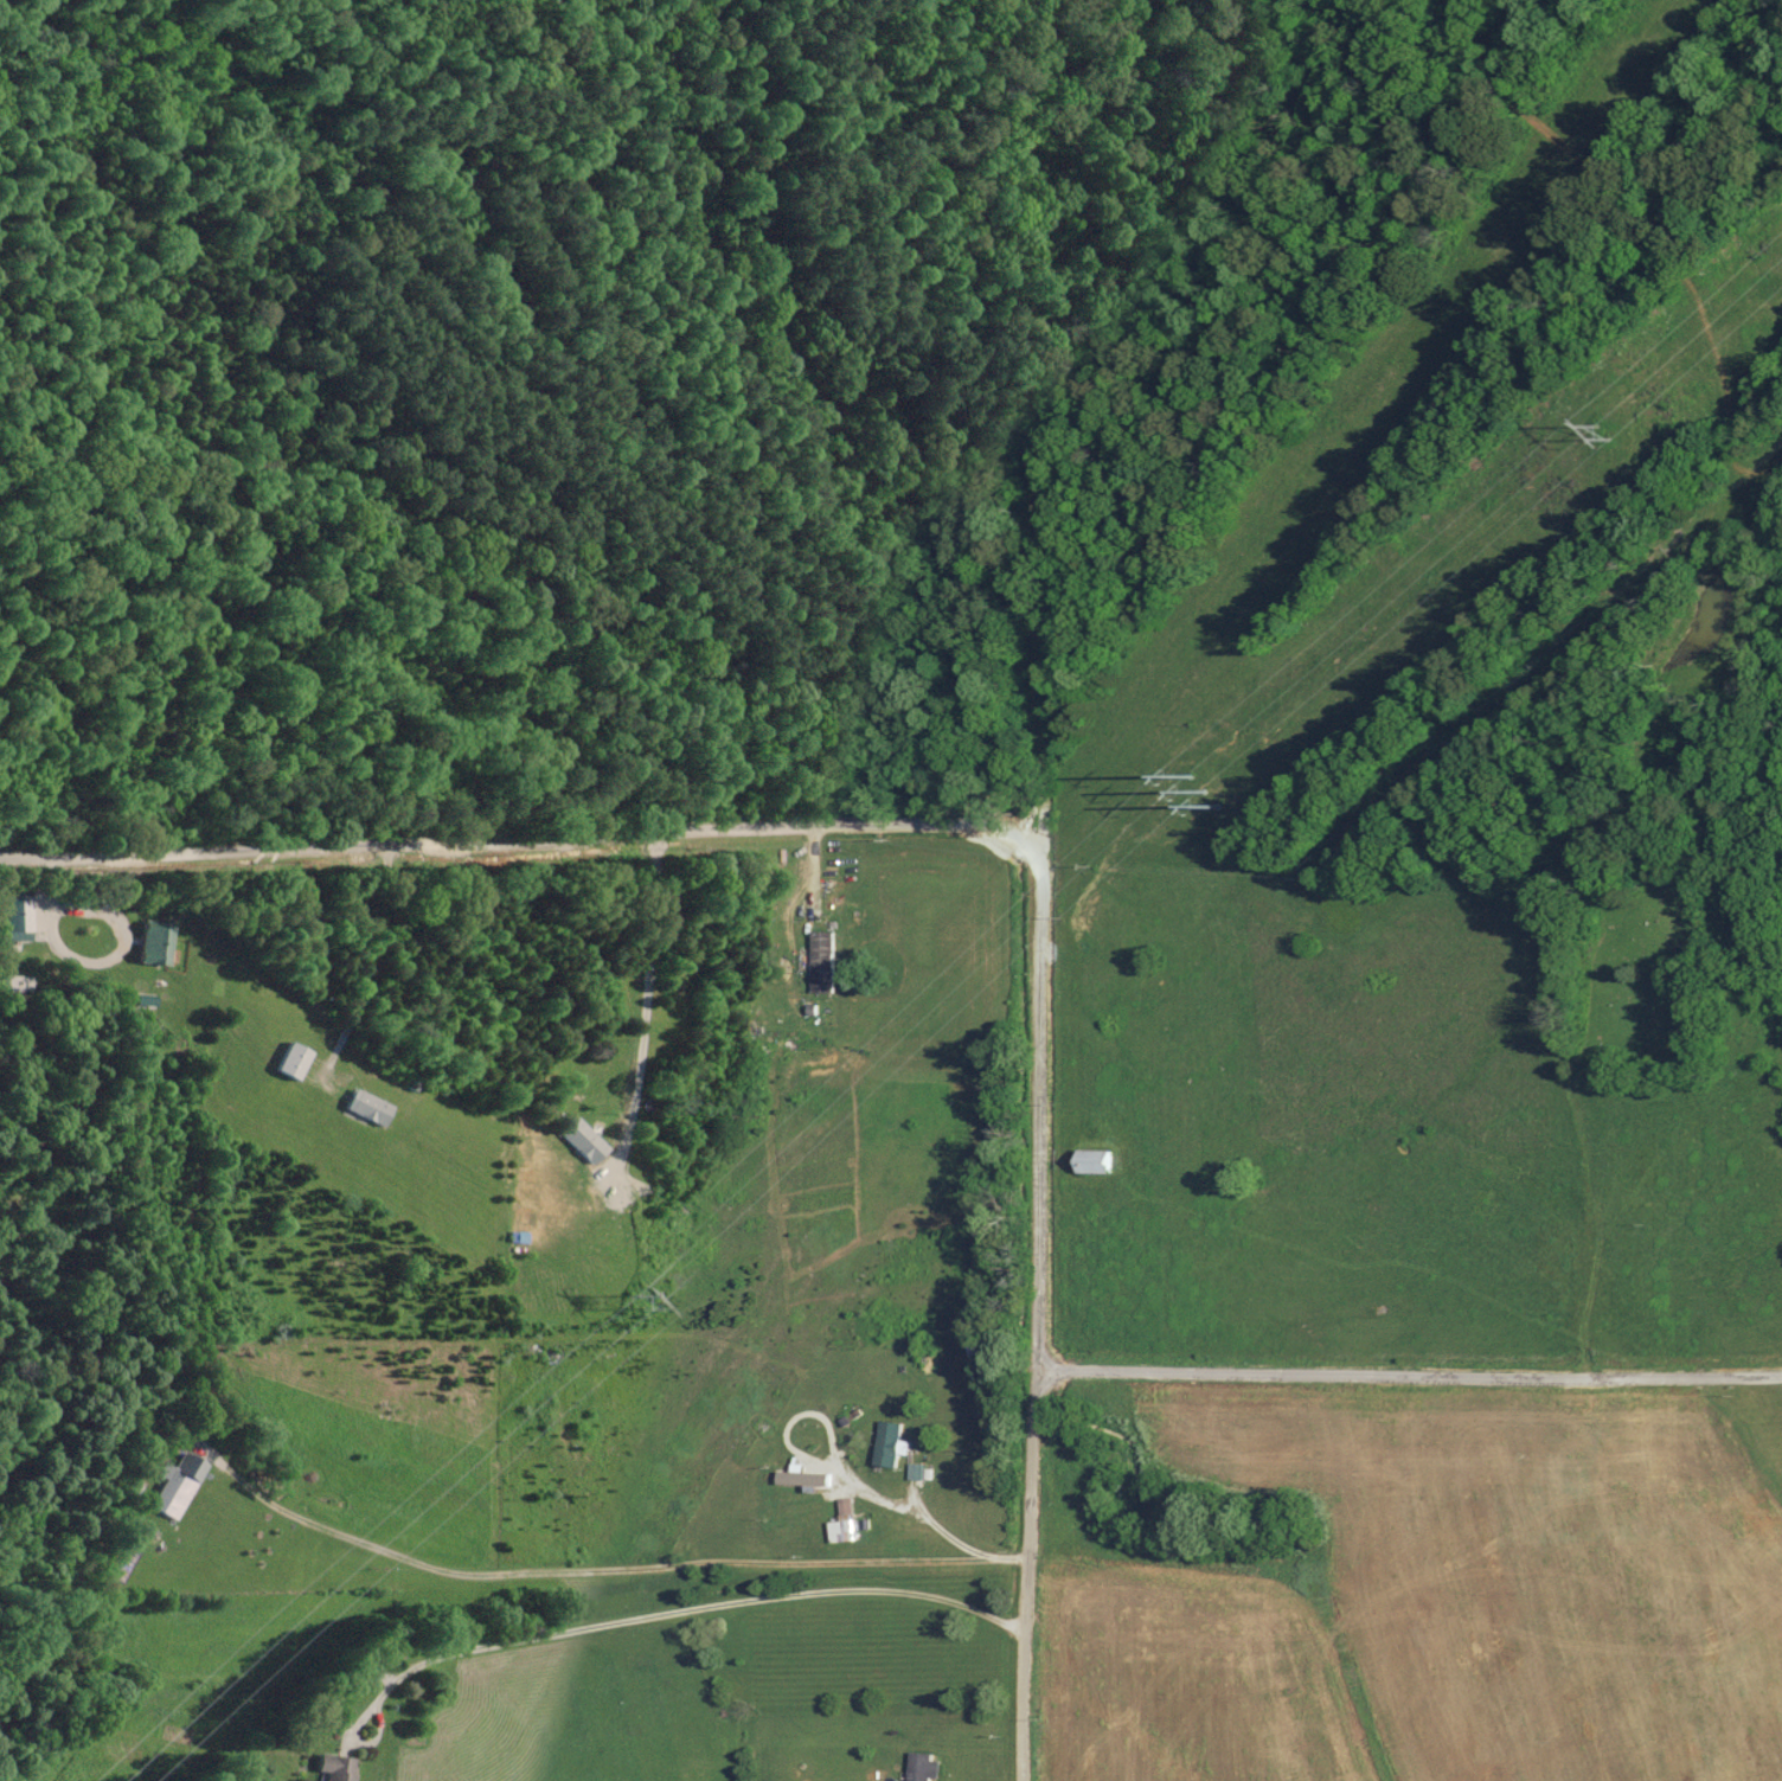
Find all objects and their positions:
road: (951, 410)
power tower: (1608, 431)
power tower: (1177, 815)
road: (472, 841)
building: (155, 942)
building: (826, 960)
building: (294, 1059)
building: (368, 1106)
building: (584, 1139)
building: (1101, 1161)
road: (1558, 1180)
road: (1037, 1267)
power tower: (637, 1301)
road: (1409, 1375)
building: (892, 1442)
building: (803, 1474)
building: (162, 1488)
building: (847, 1521)
road: (590, 1571)
road: (672, 1613)
building: (924, 1762)
building: (339, 1768)

